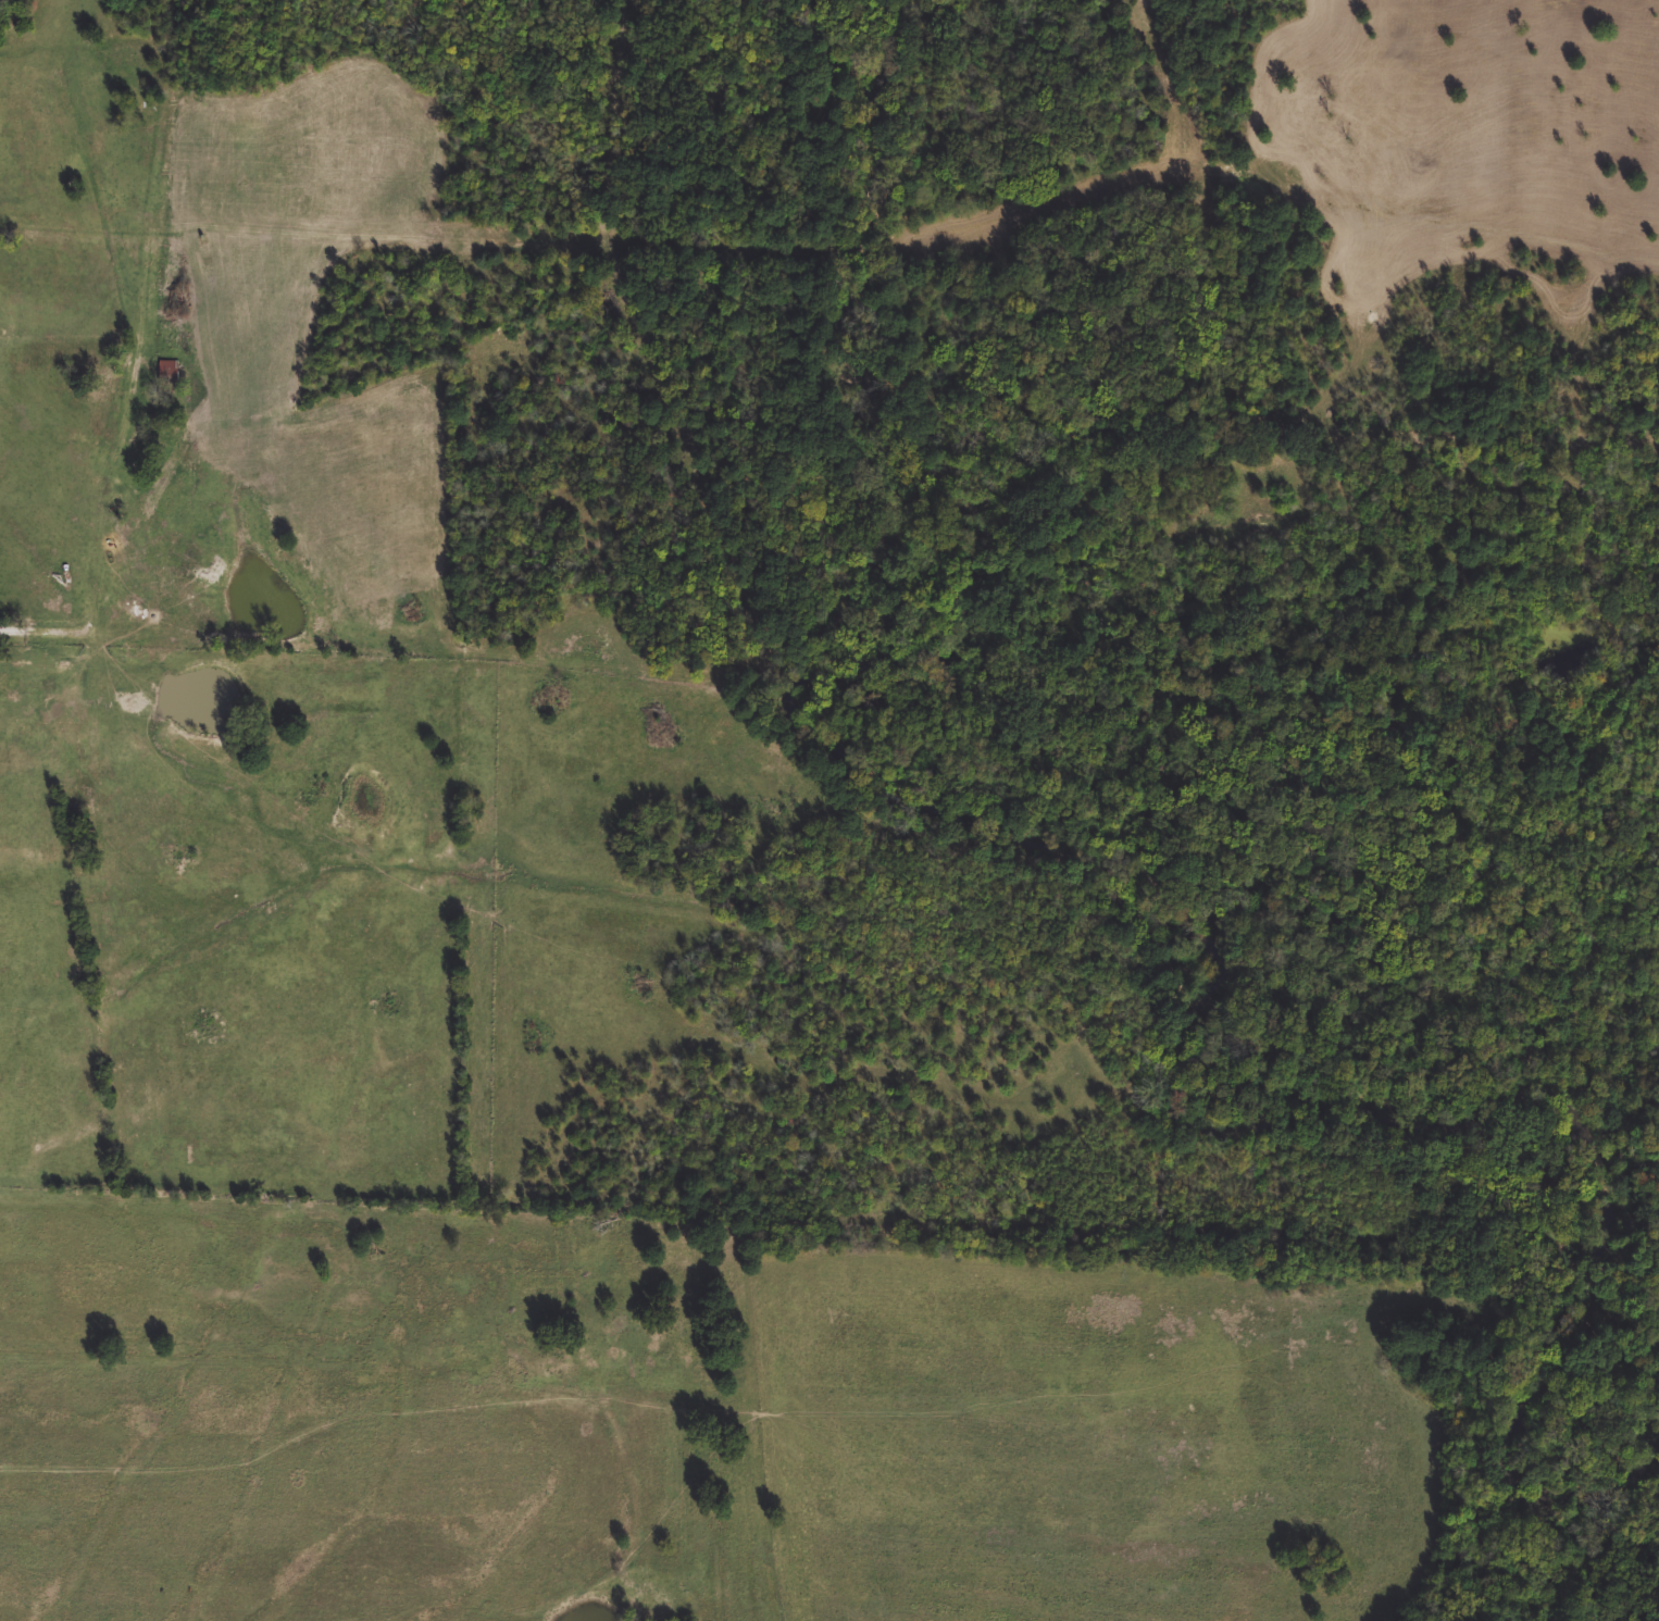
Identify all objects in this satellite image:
building: (171, 374)
building: (139, 613)

